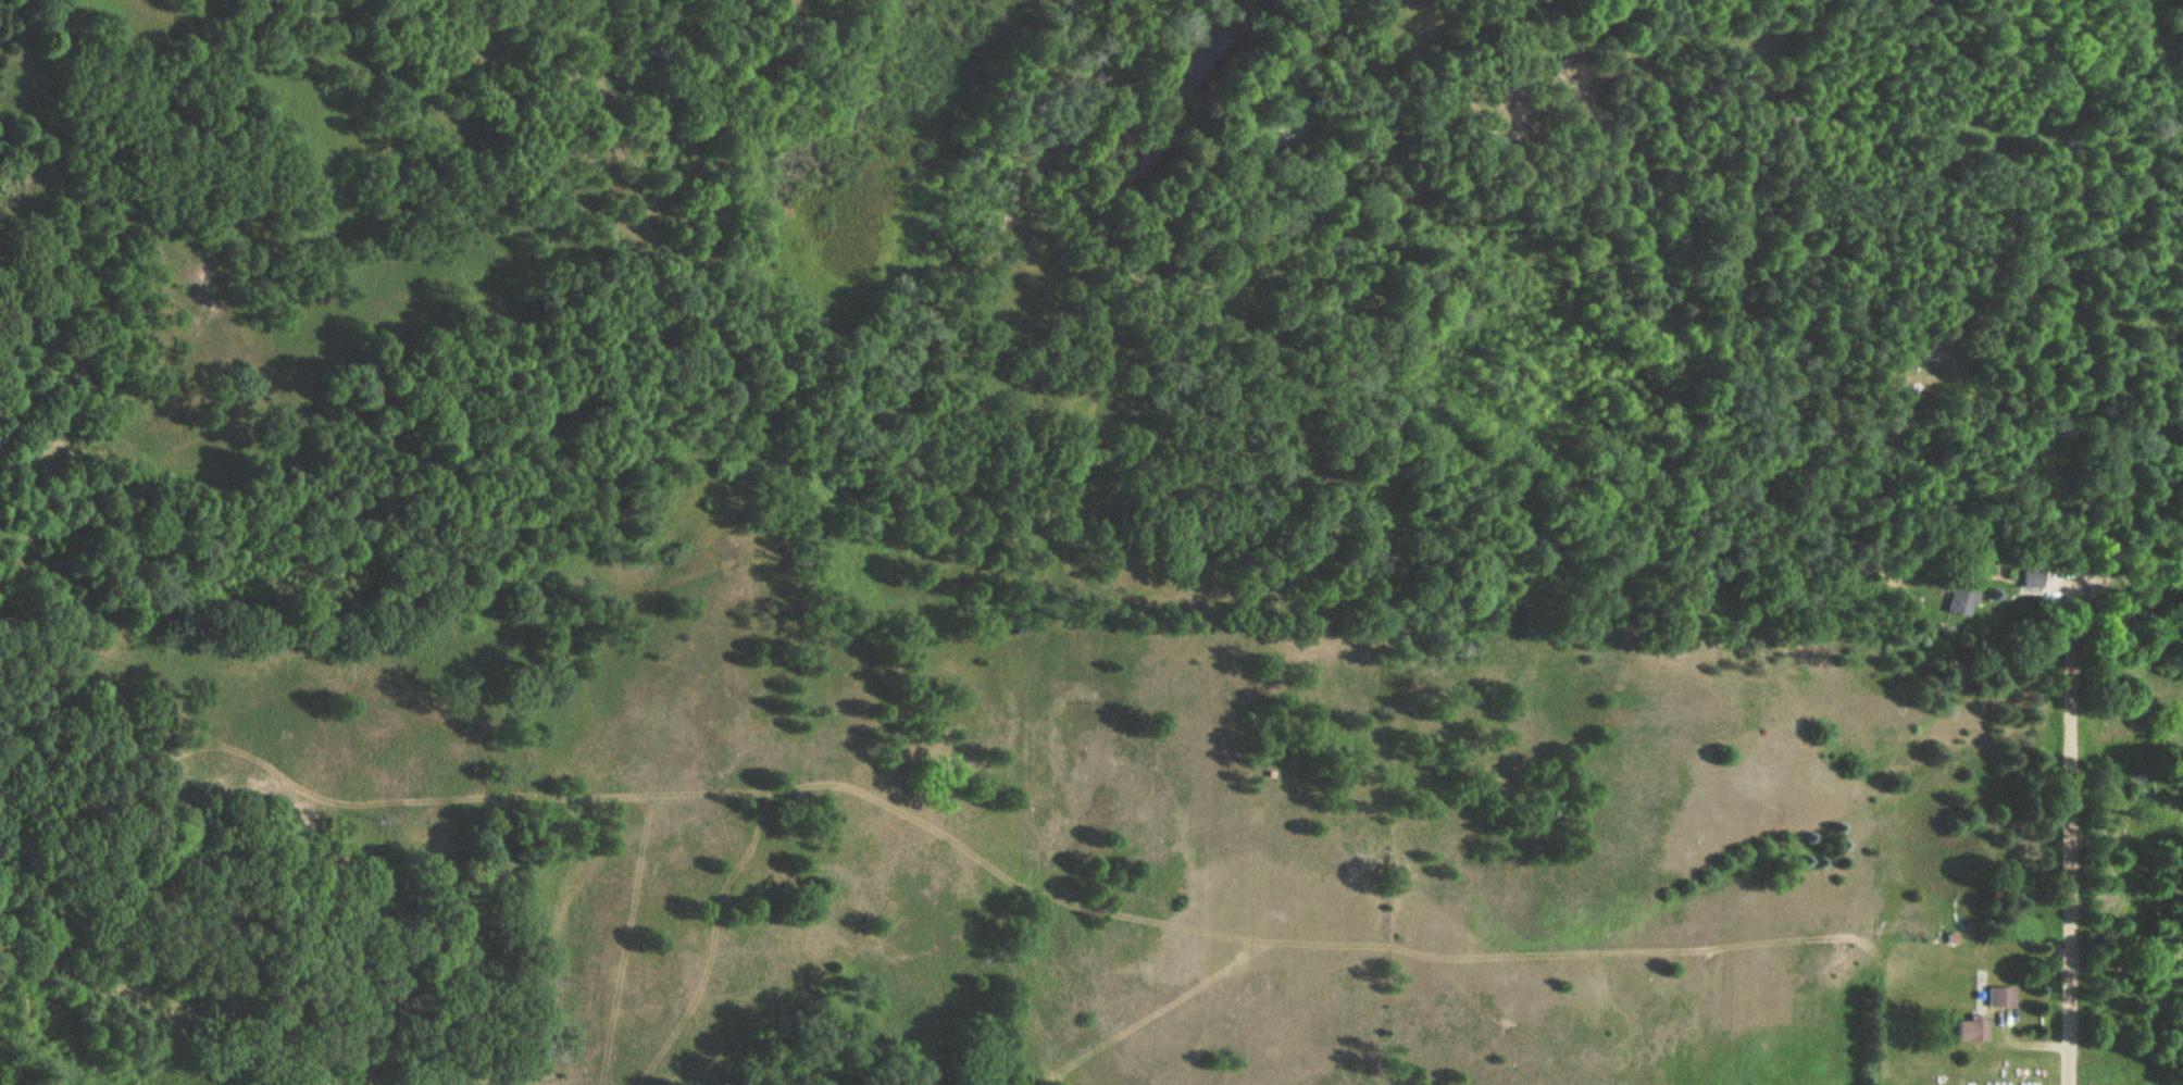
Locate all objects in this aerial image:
building: (2033, 578)
building: (1961, 597)
road: (2063, 858)
building: (2001, 998)
building: (1972, 1031)

